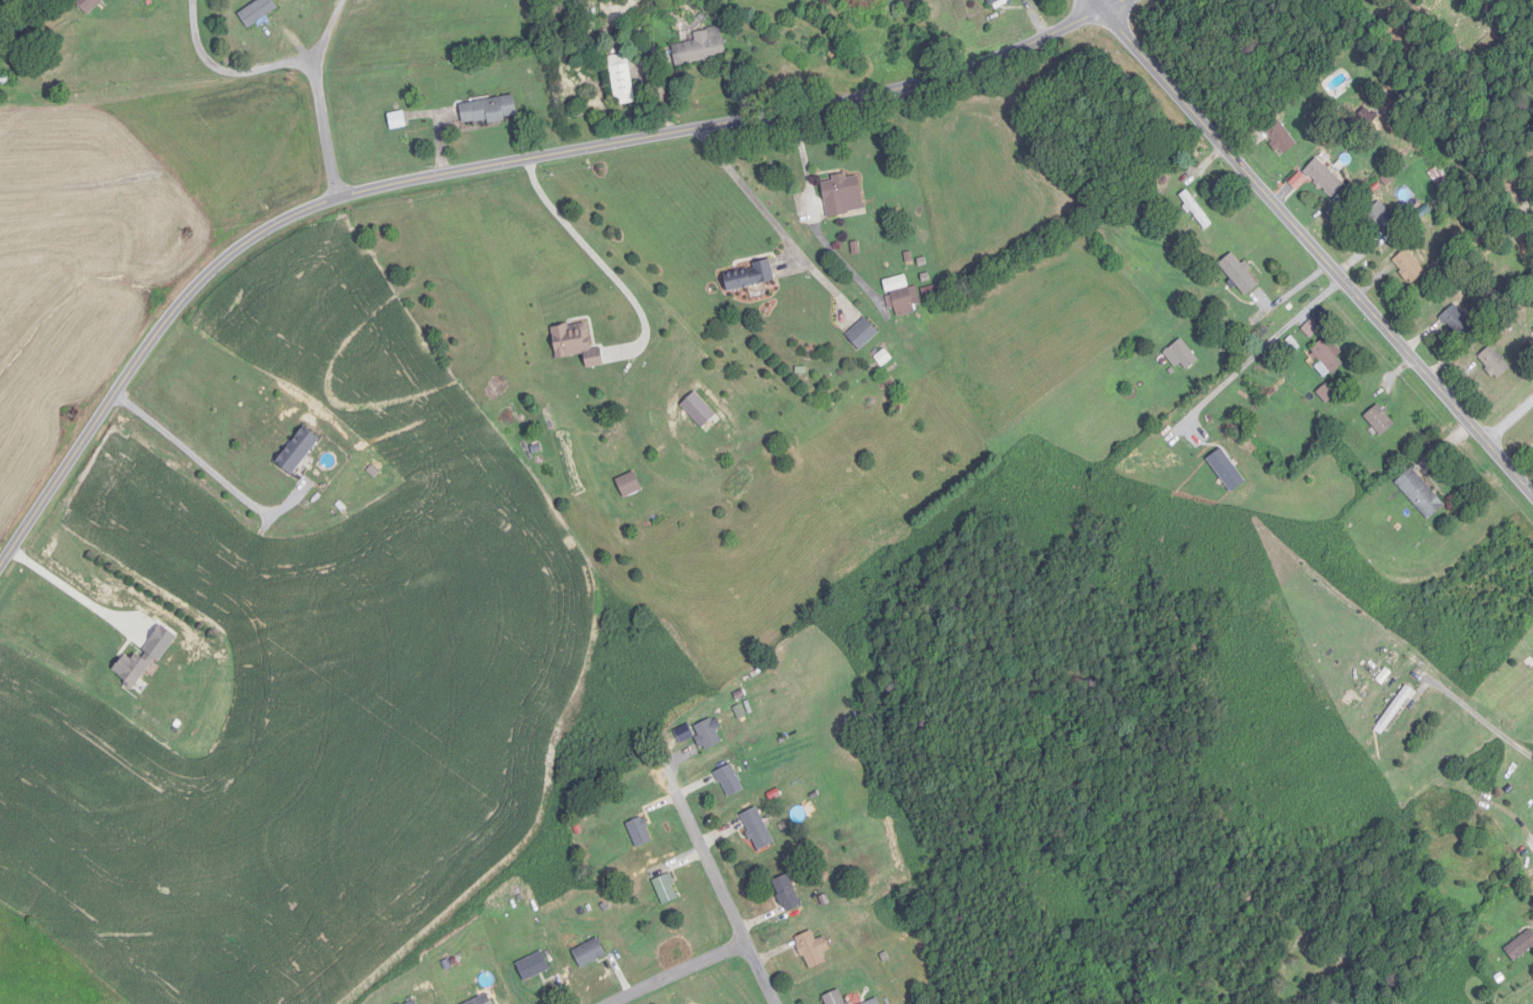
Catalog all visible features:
building: (998, 2)
building: (89, 5)
building: (258, 11)
road: (328, 35)
building: (702, 47)
road: (289, 68)
building: (622, 76)
building: (5, 80)
building: (489, 110)
building: (1365, 119)
building: (399, 120)
building: (1281, 137)
road: (488, 173)
building: (1325, 178)
building: (843, 196)
building: (1197, 210)
building: (1383, 218)
road: (1313, 246)
road: (590, 261)
building: (1410, 266)
building: (1240, 274)
building: (749, 277)
building: (935, 294)
building: (906, 300)
building: (1457, 321)
building: (1311, 328)
building: (863, 334)
building: (572, 340)
road: (1259, 351)
building: (1181, 355)
building: (1326, 357)
building: (594, 362)
building: (1495, 362)
building: (1328, 393)
road: (1509, 418)
building: (1380, 420)
building: (297, 450)
road: (201, 474)
building: (629, 485)
building: (1421, 494)
road: (81, 596)
building: (134, 668)
building: (1397, 708)
road: (1482, 719)
building: (709, 735)
building: (730, 781)
building: (1453, 820)
building: (758, 830)
building: (640, 832)
road: (715, 871)
building: (667, 889)
building: (787, 894)
building: (813, 950)
building: (589, 954)
building: (533, 967)
road: (683, 973)
building: (835, 998)
building: (482, 1001)
building: (413, 1002)
building: (875, 1002)

